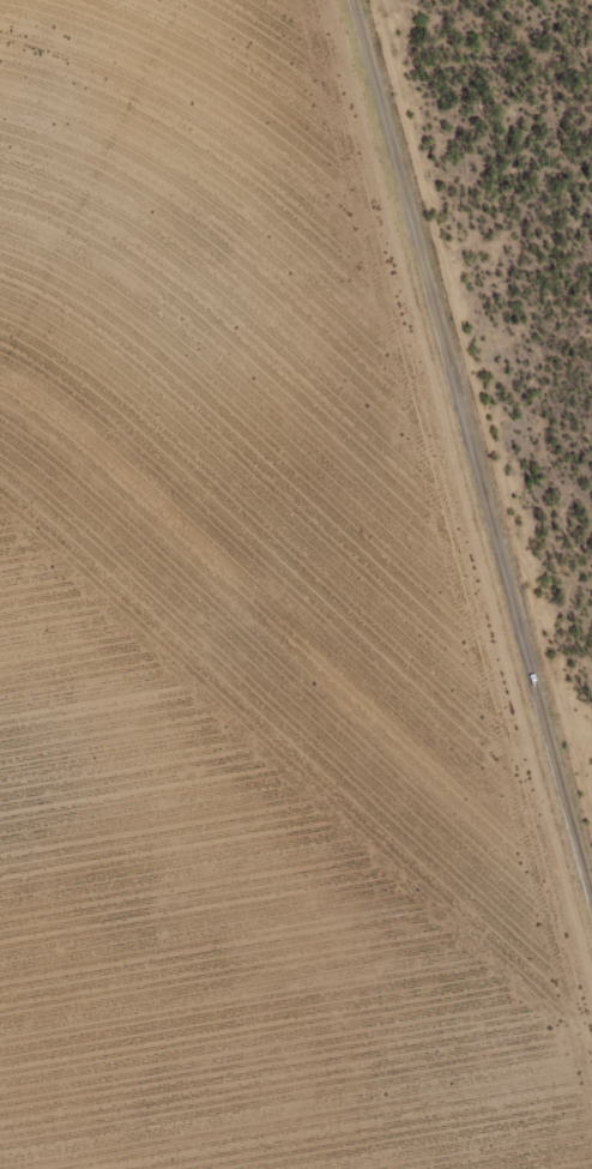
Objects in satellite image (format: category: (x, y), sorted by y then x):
road: (458, 506)

